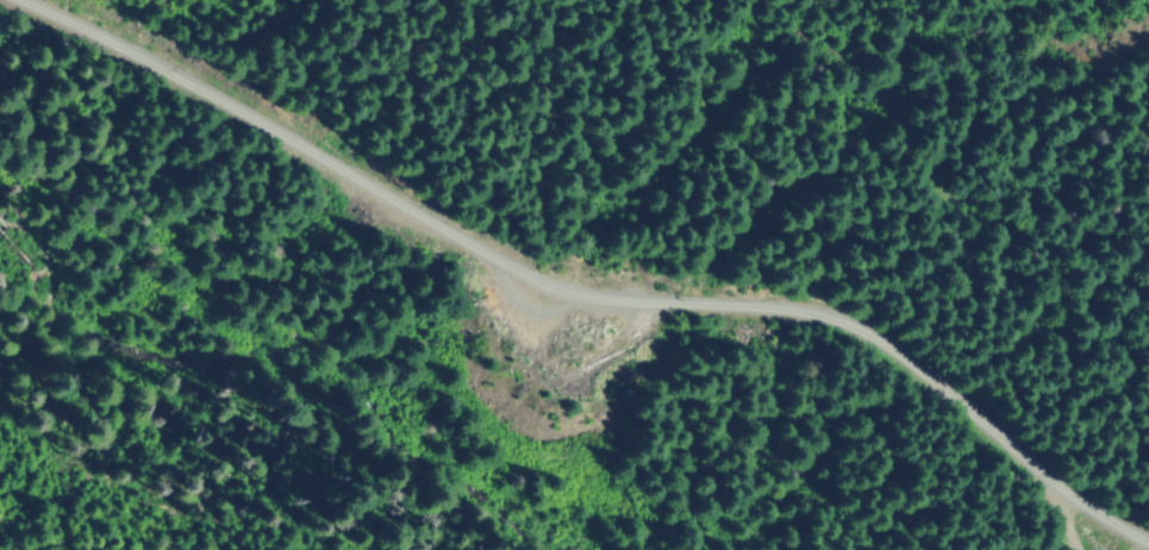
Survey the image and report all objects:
road: (593, 285)

